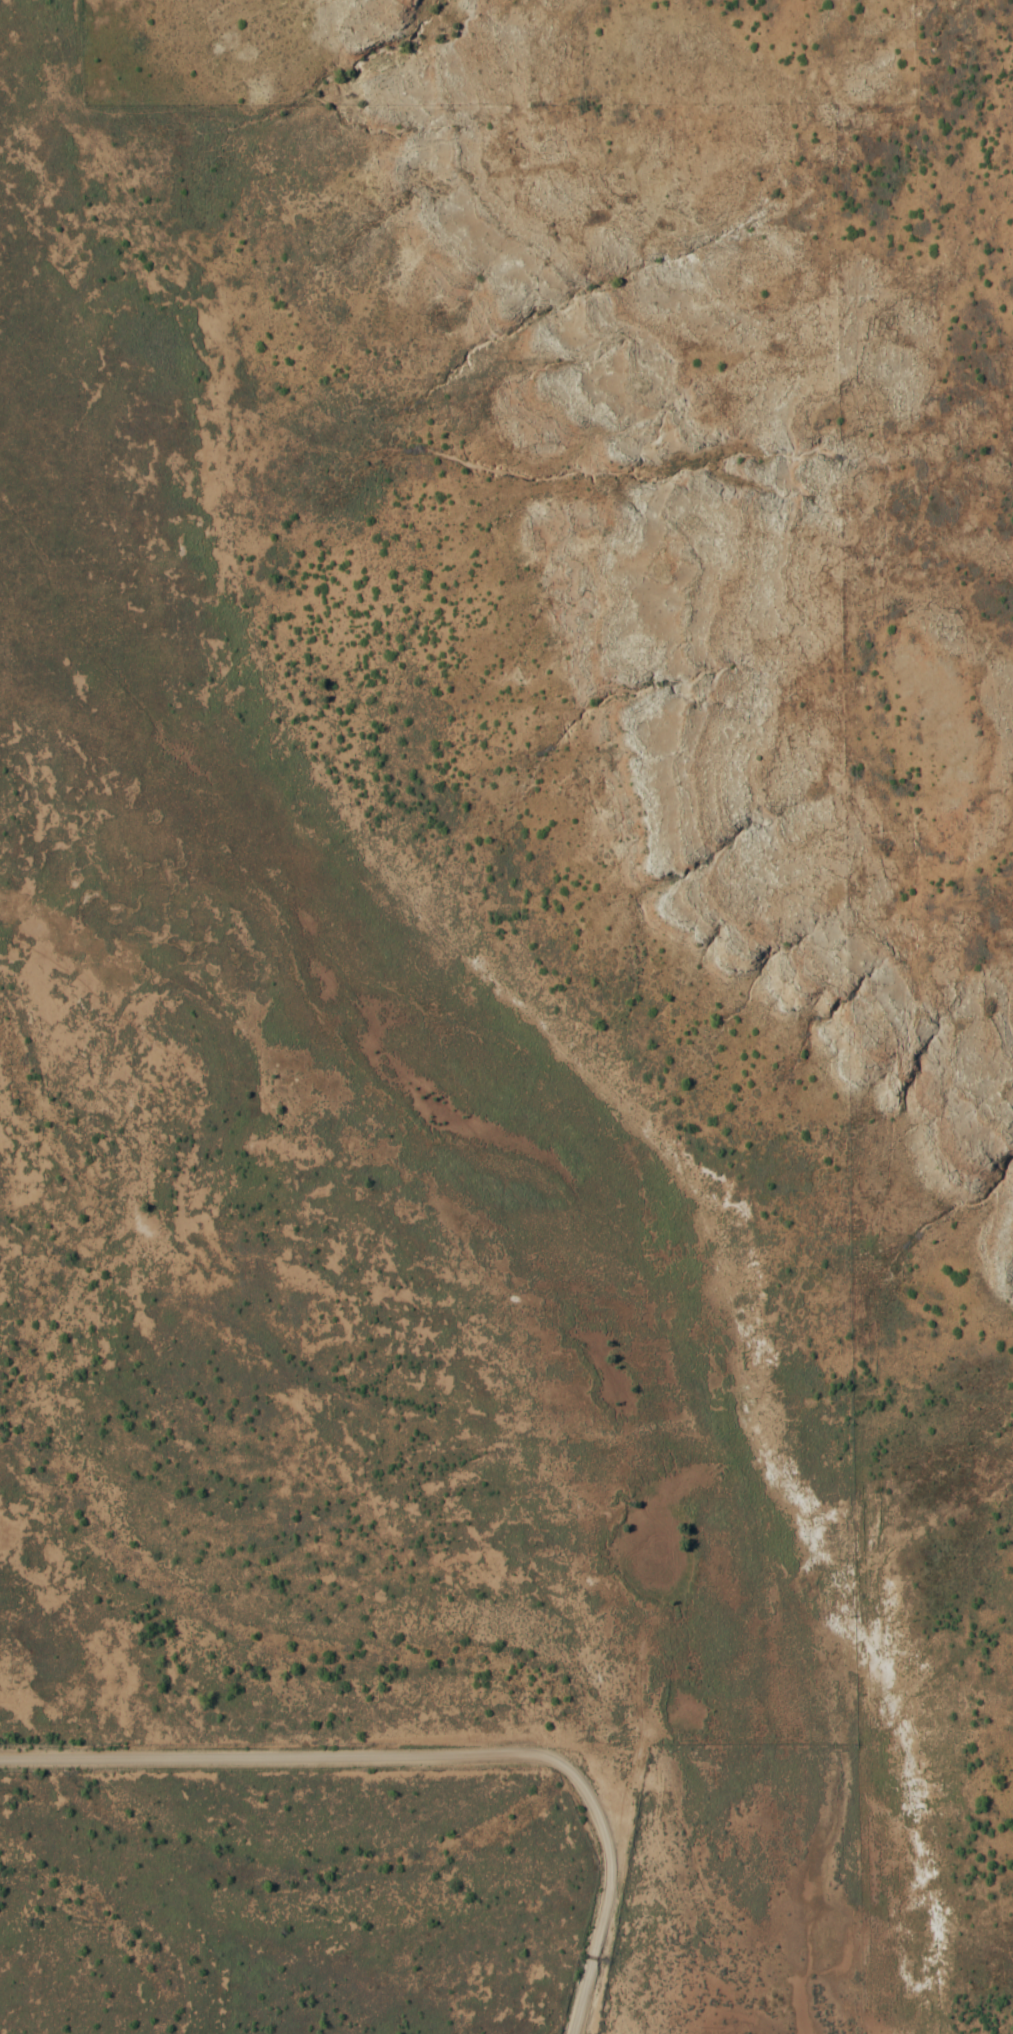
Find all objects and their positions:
road: (424, 1755)

